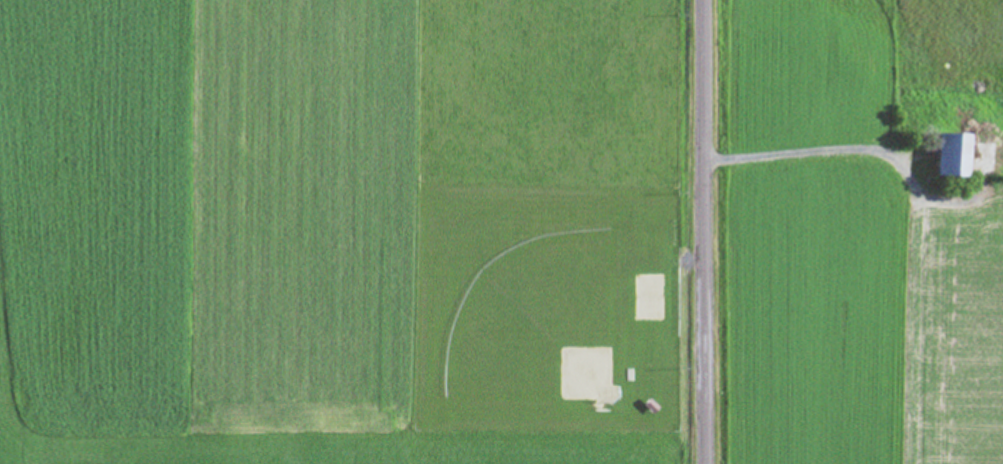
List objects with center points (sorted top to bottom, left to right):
building: (946, 155)
road: (709, 231)

